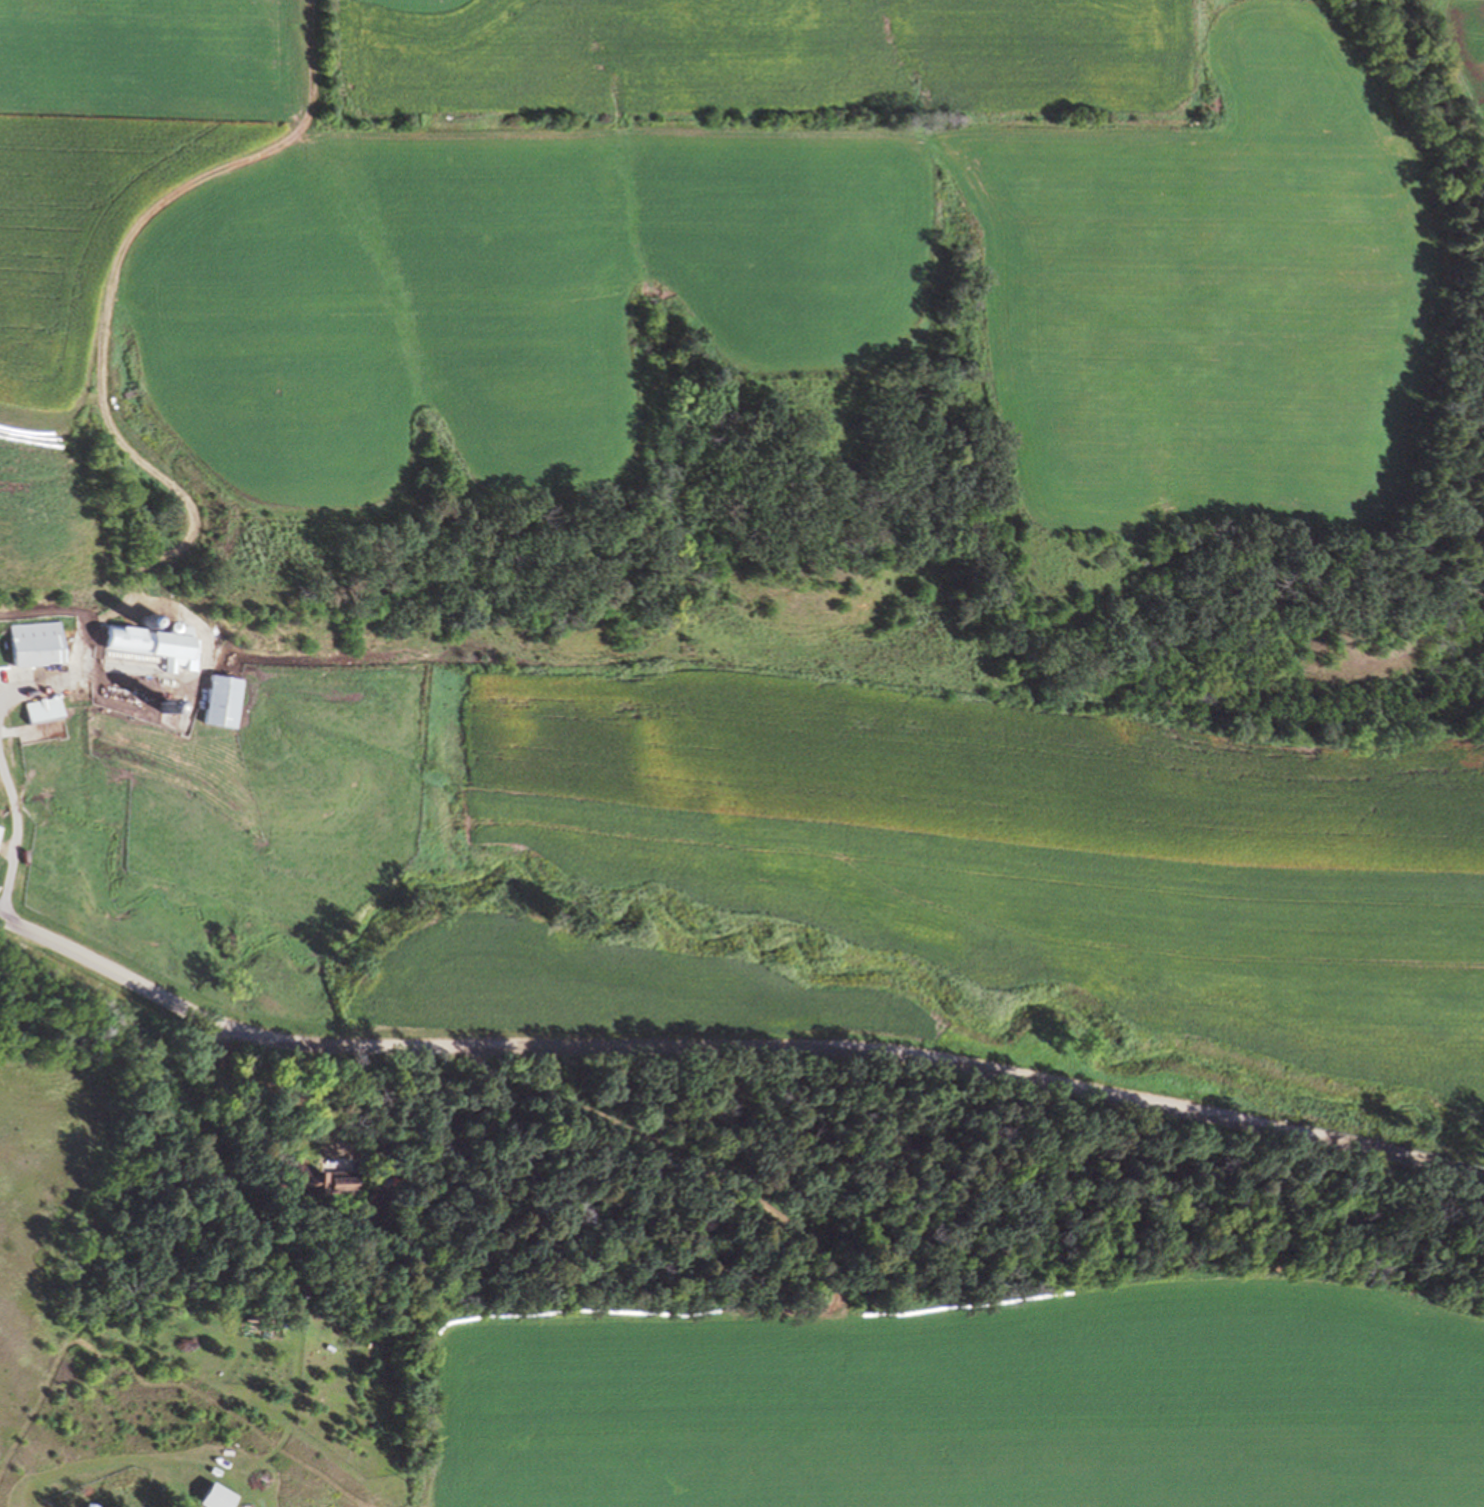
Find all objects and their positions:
road: (104, 320)
building: (157, 645)
building: (40, 648)
road: (44, 682)
building: (226, 706)
building: (45, 716)
building: (0, 825)
road: (17, 833)
building: (1, 837)
road: (736, 1046)
road: (276, 1080)
road: (655, 1145)
building: (327, 1186)
building: (218, 1497)

